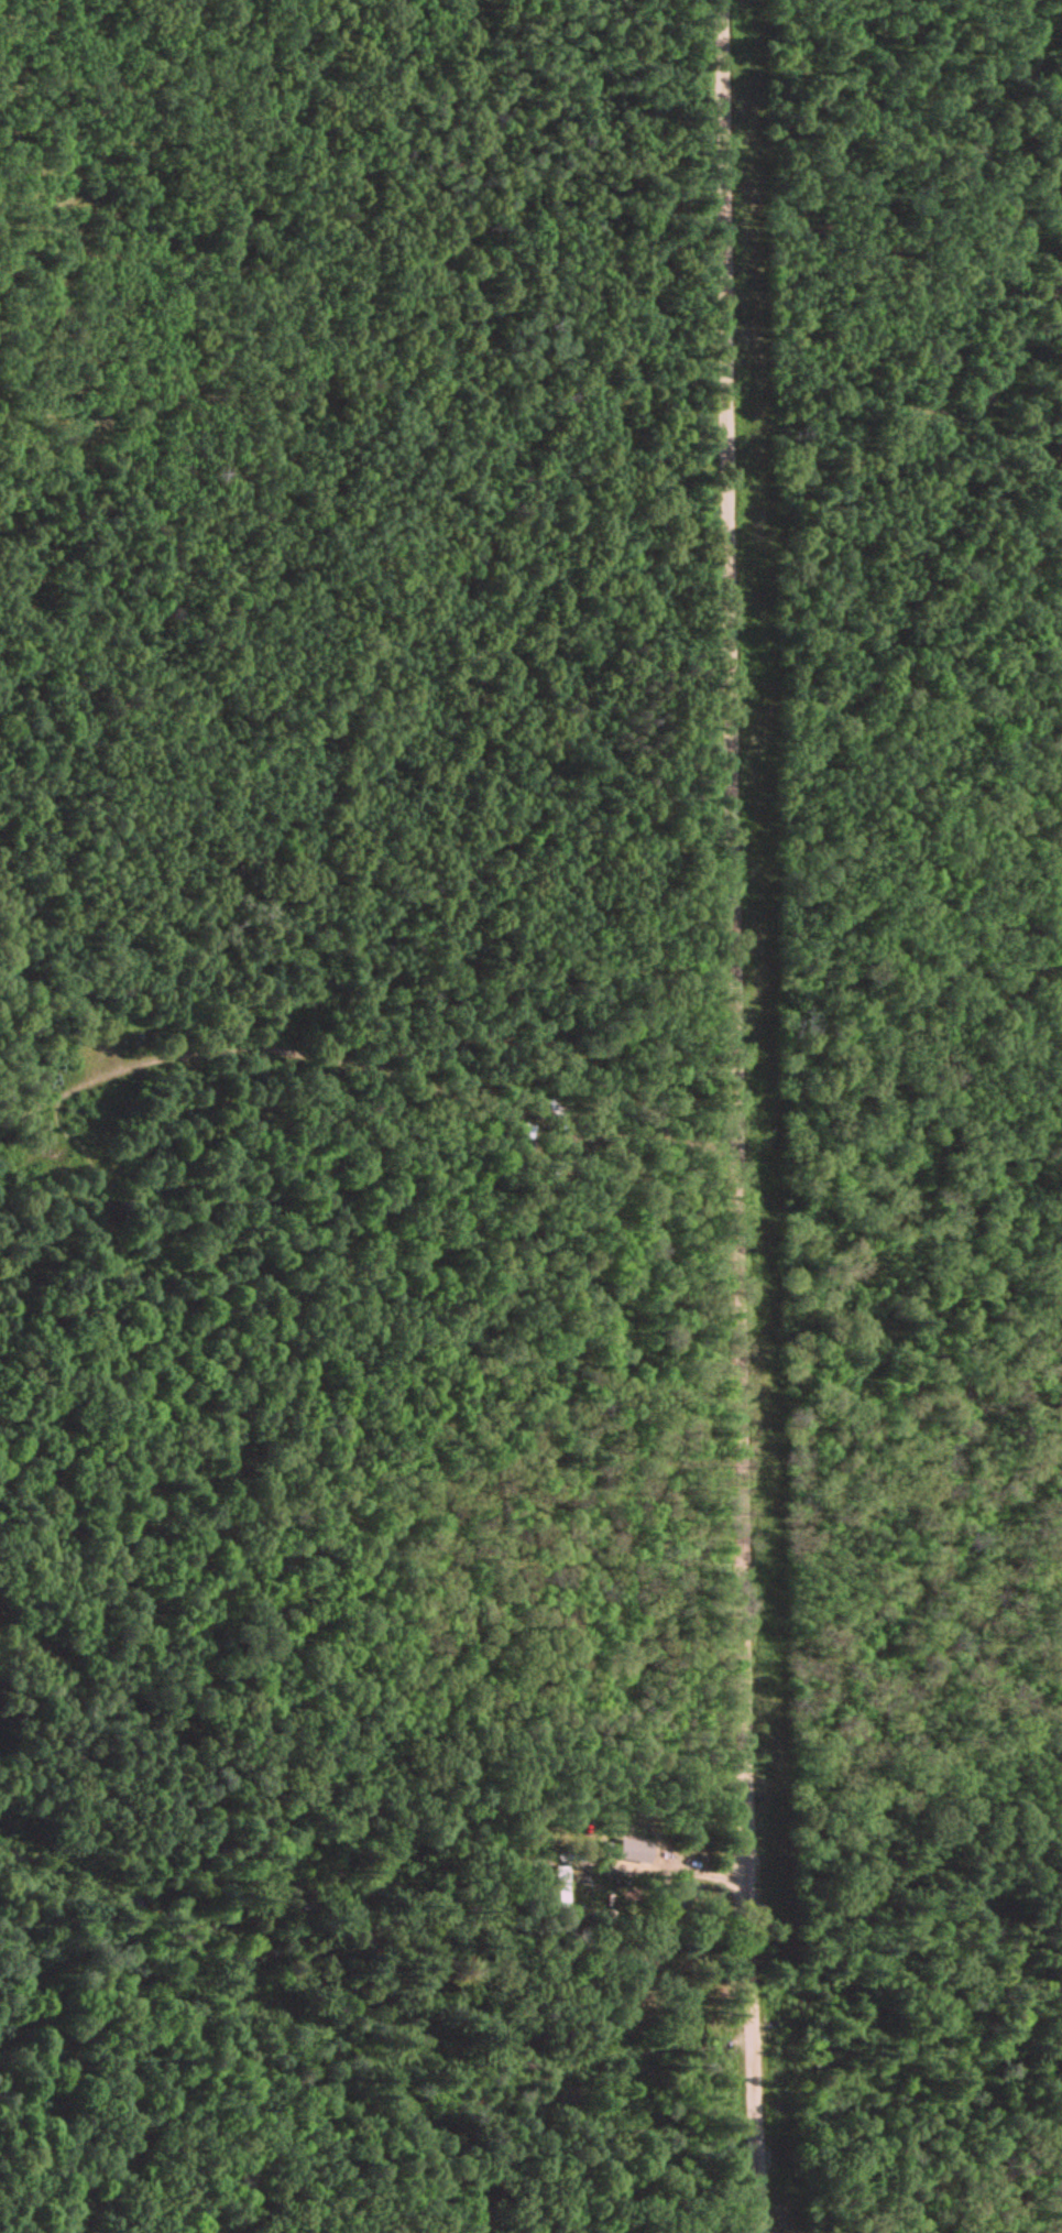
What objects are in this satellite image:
road: (732, 939)
road: (677, 1867)
building: (561, 1882)
building: (679, 1893)
road: (751, 2043)
road: (758, 2220)

